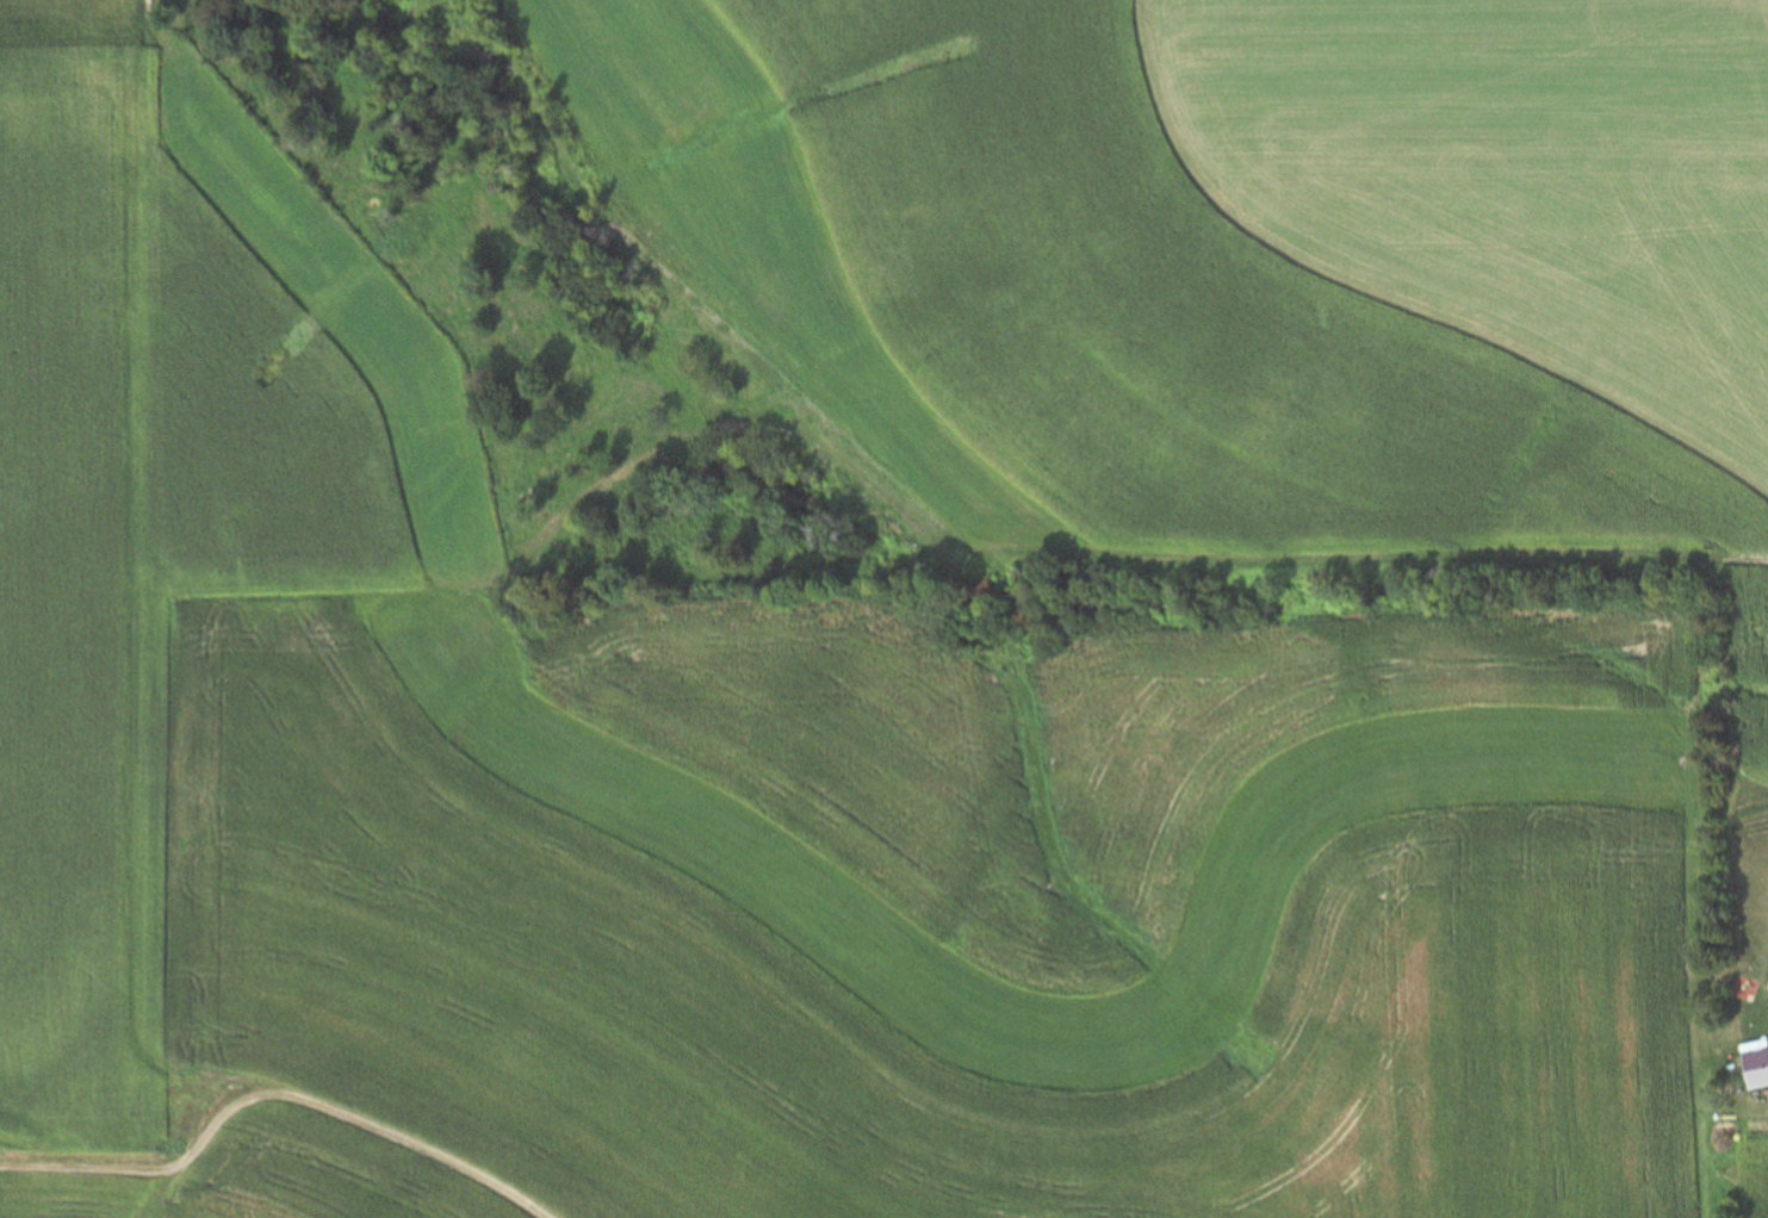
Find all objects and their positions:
building: (1755, 1068)

